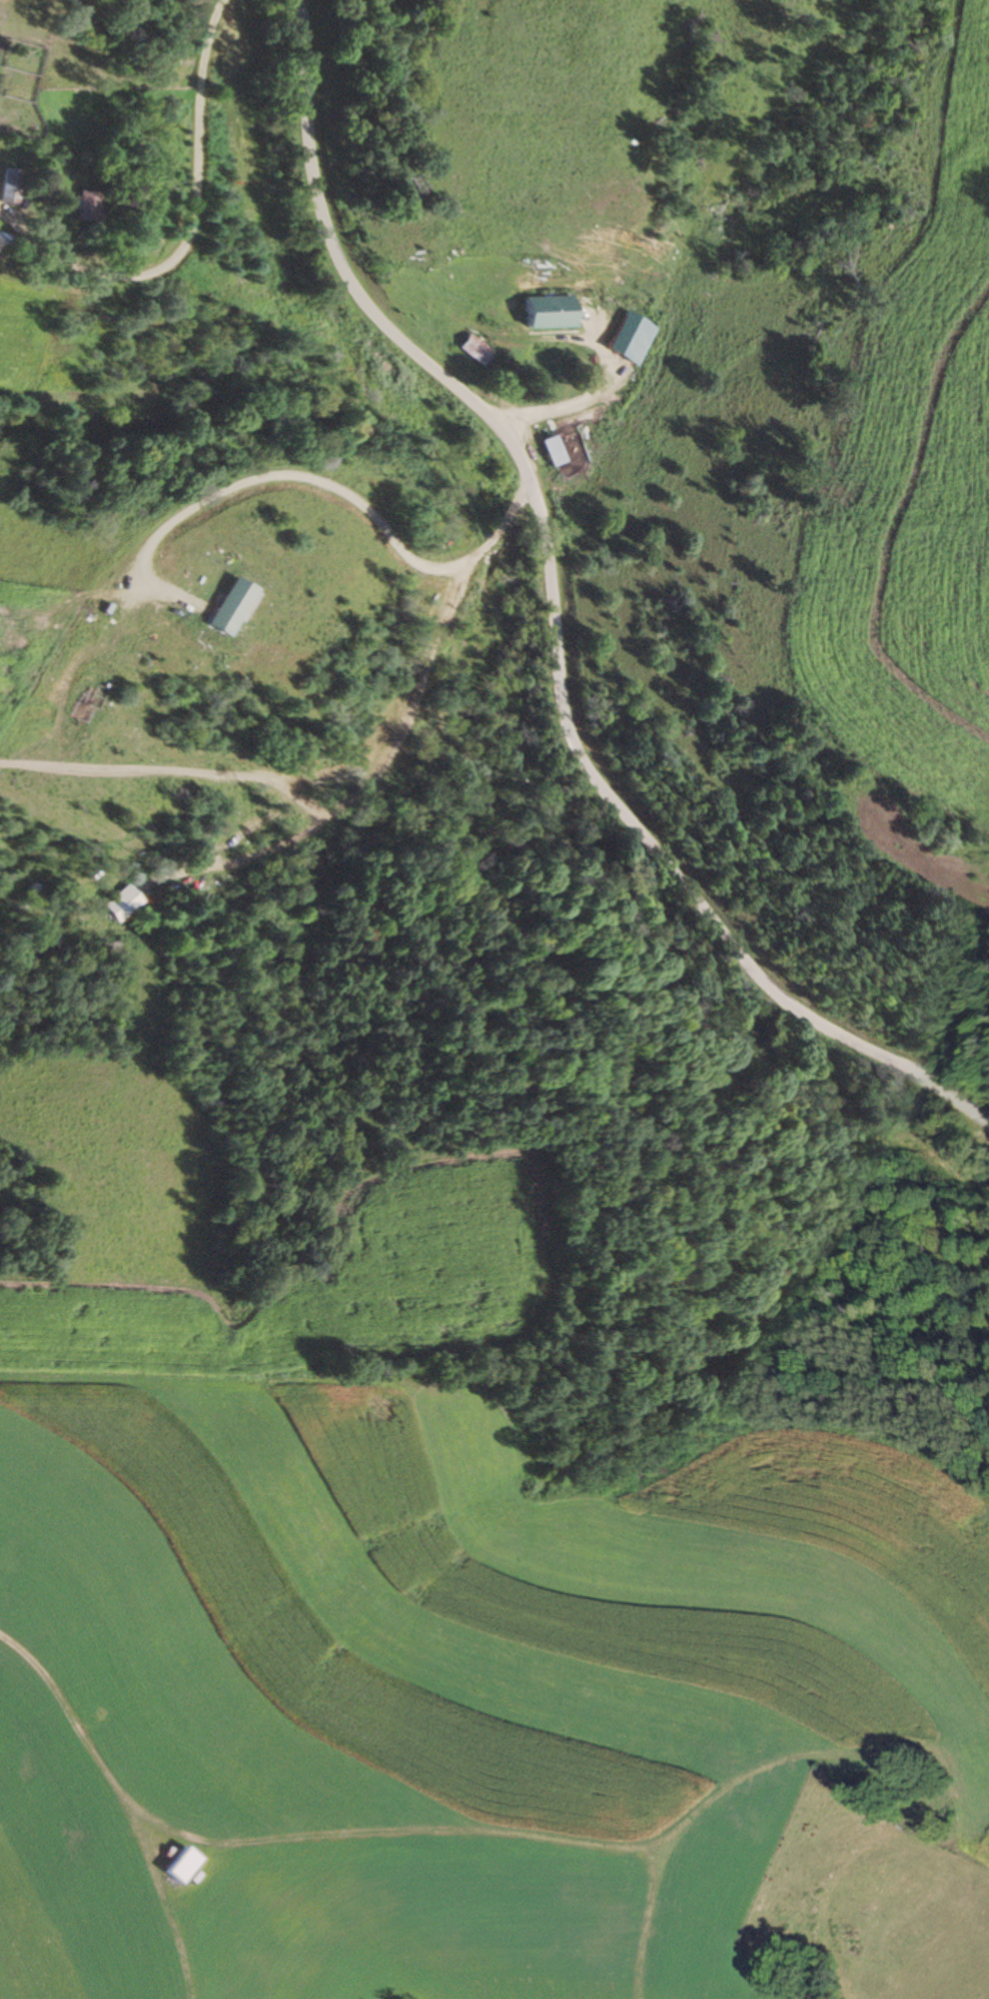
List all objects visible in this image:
road: (154, 184)
building: (84, 205)
building: (552, 311)
building: (620, 320)
building: (476, 347)
building: (564, 446)
road: (548, 618)
building: (119, 902)
building: (182, 1865)

